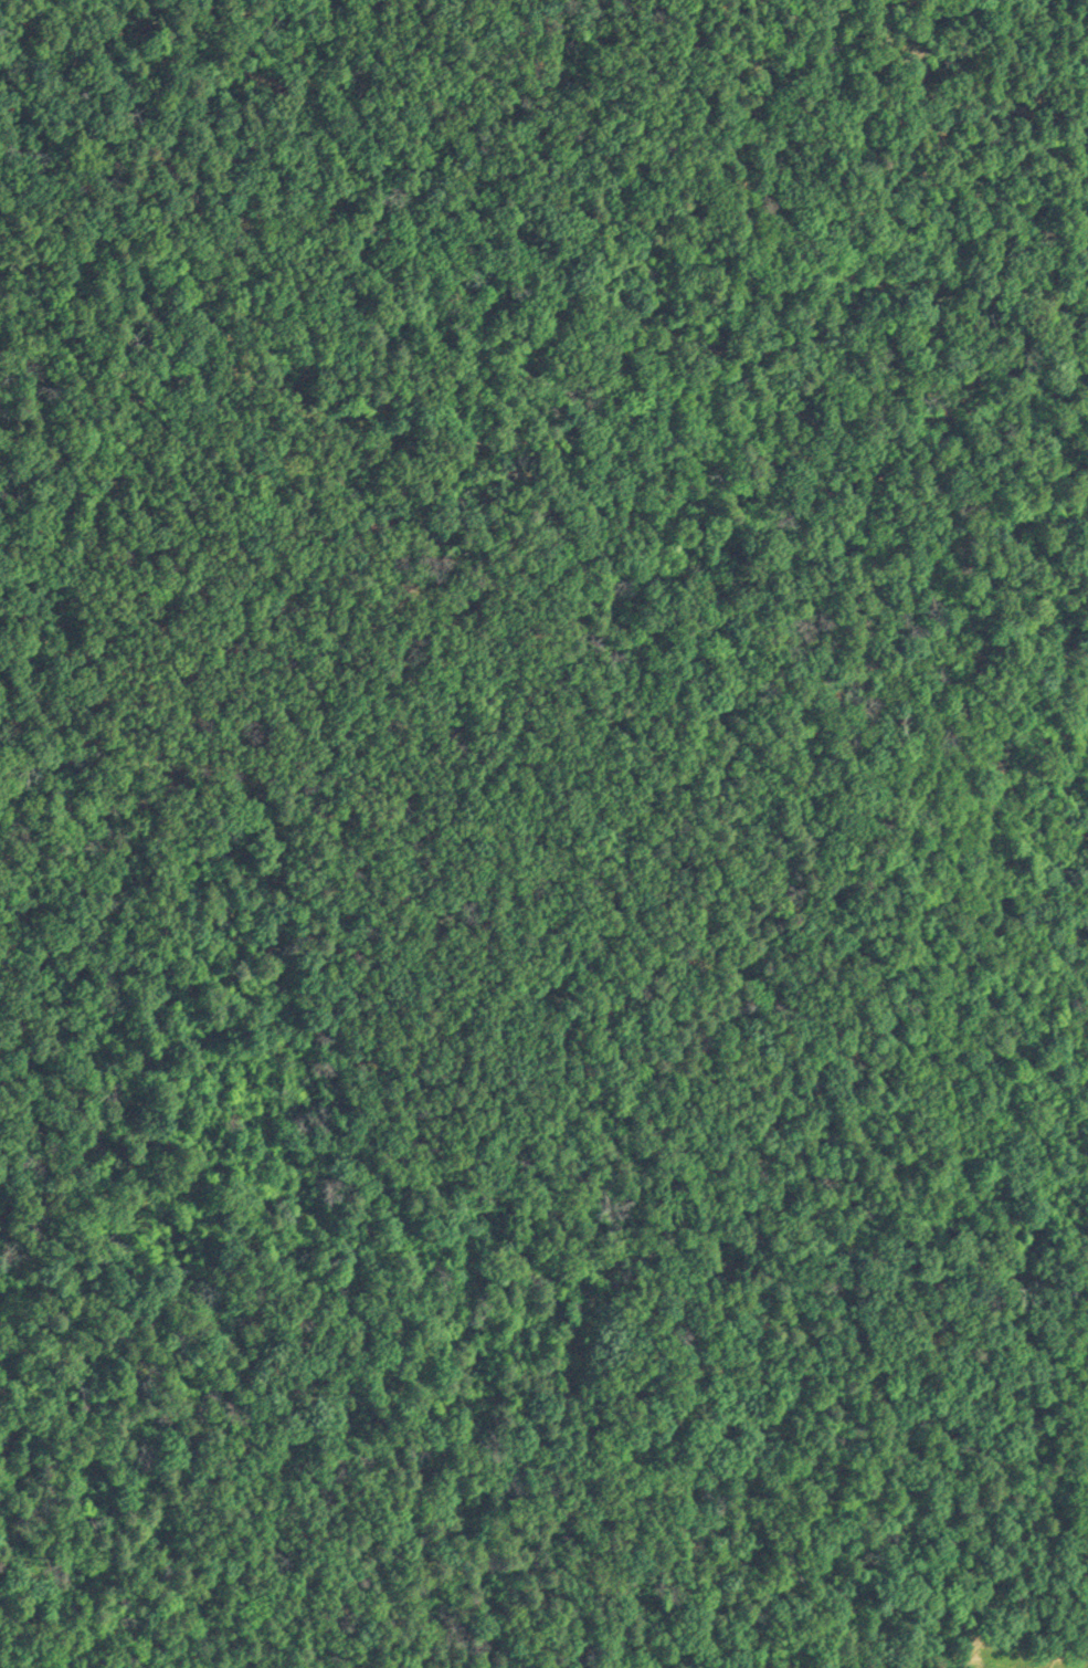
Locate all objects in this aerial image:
road: (874, 1662)
road: (922, 1662)

